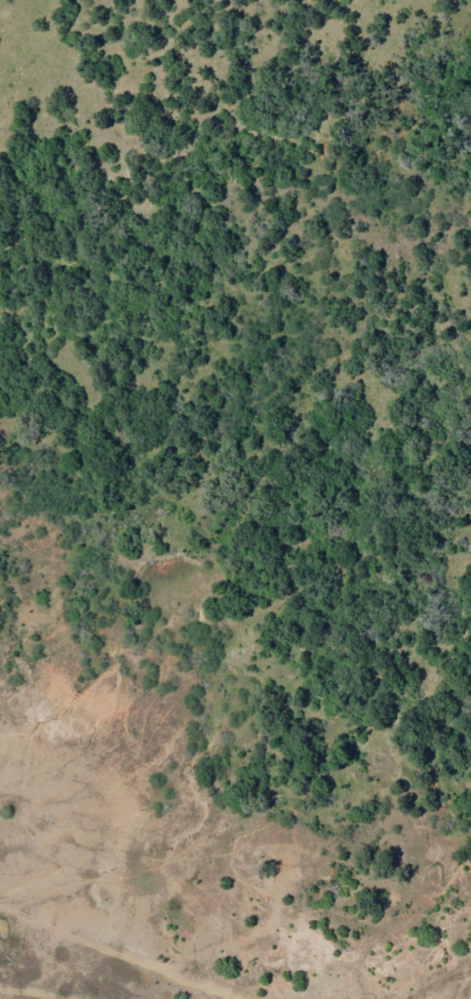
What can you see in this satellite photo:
road: (297, 295)
road: (221, 792)

